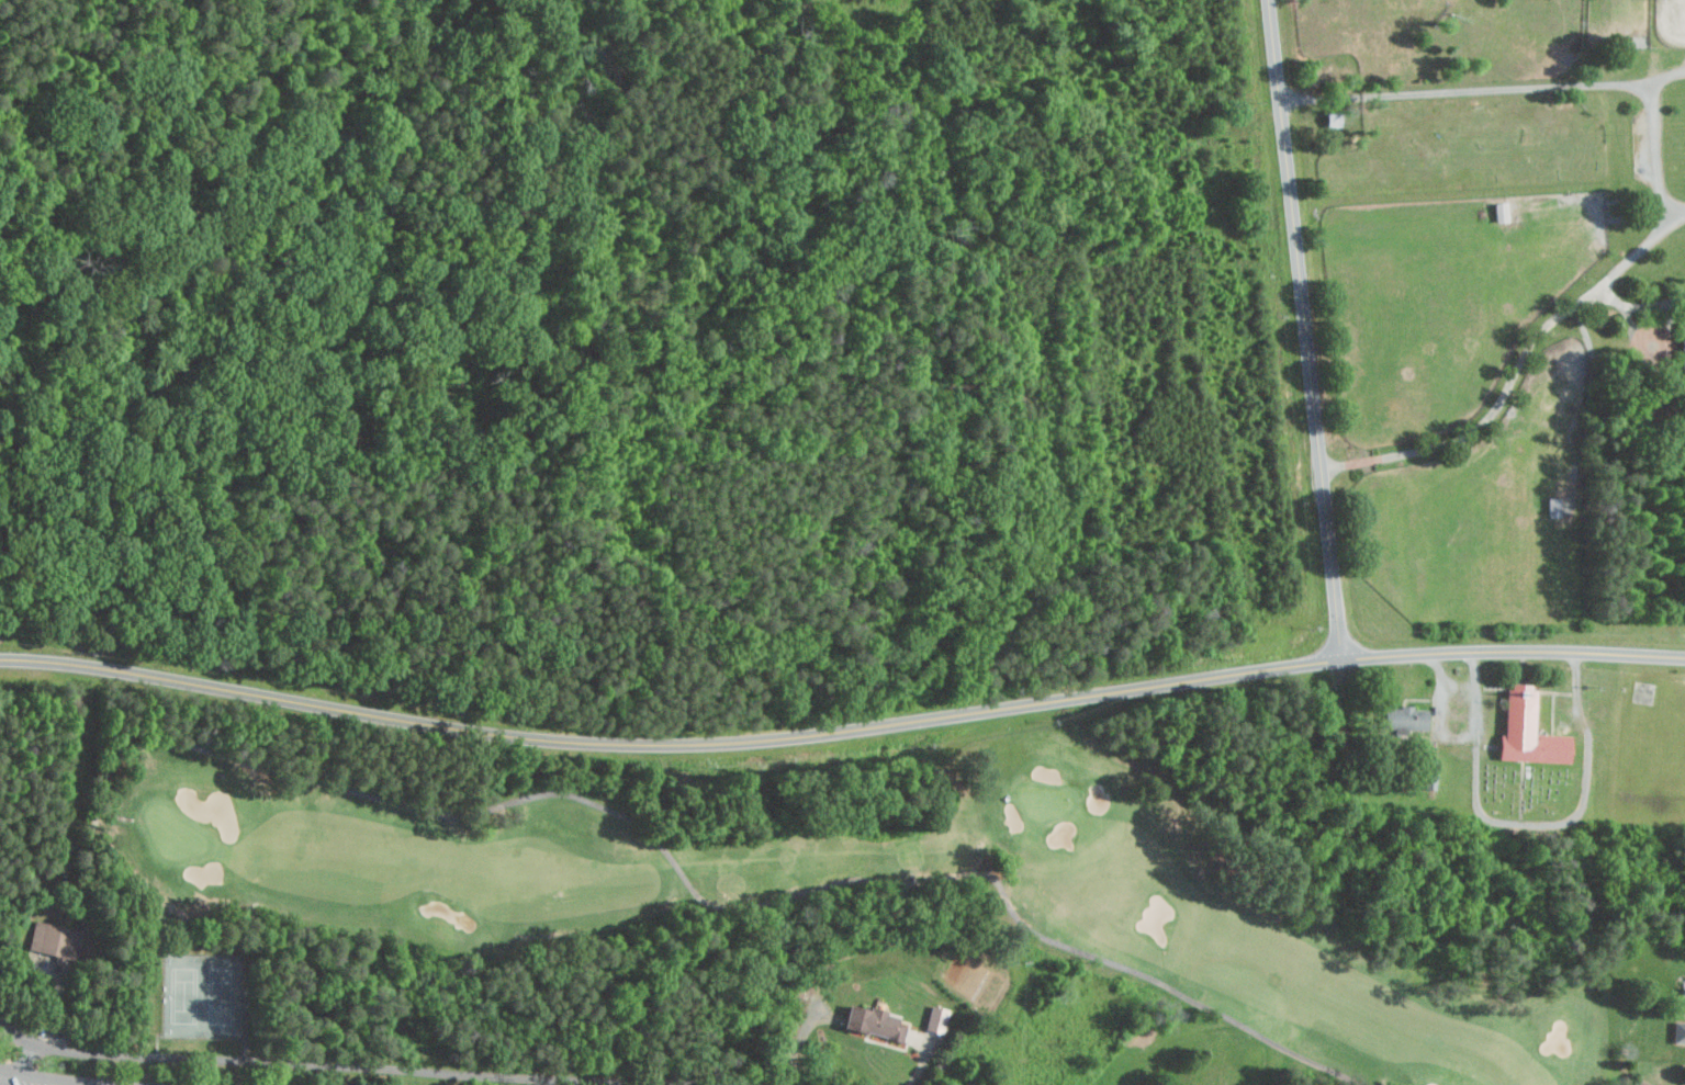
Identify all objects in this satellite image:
road: (1664, 192)
road: (1306, 328)
building: (1682, 339)
road: (1661, 355)
building: (1404, 719)
road: (841, 731)
building: (1527, 731)
building: (1429, 773)
park: (1532, 789)
park: (851, 811)
road: (776, 901)
building: (52, 939)
park: (215, 1002)
building: (935, 1019)
building: (872, 1022)
building: (1678, 1032)
road: (26, 1055)
road: (922, 1064)
road: (385, 1066)
road: (9, 1074)
road: (63, 1078)
parking lot: (29, 1083)

